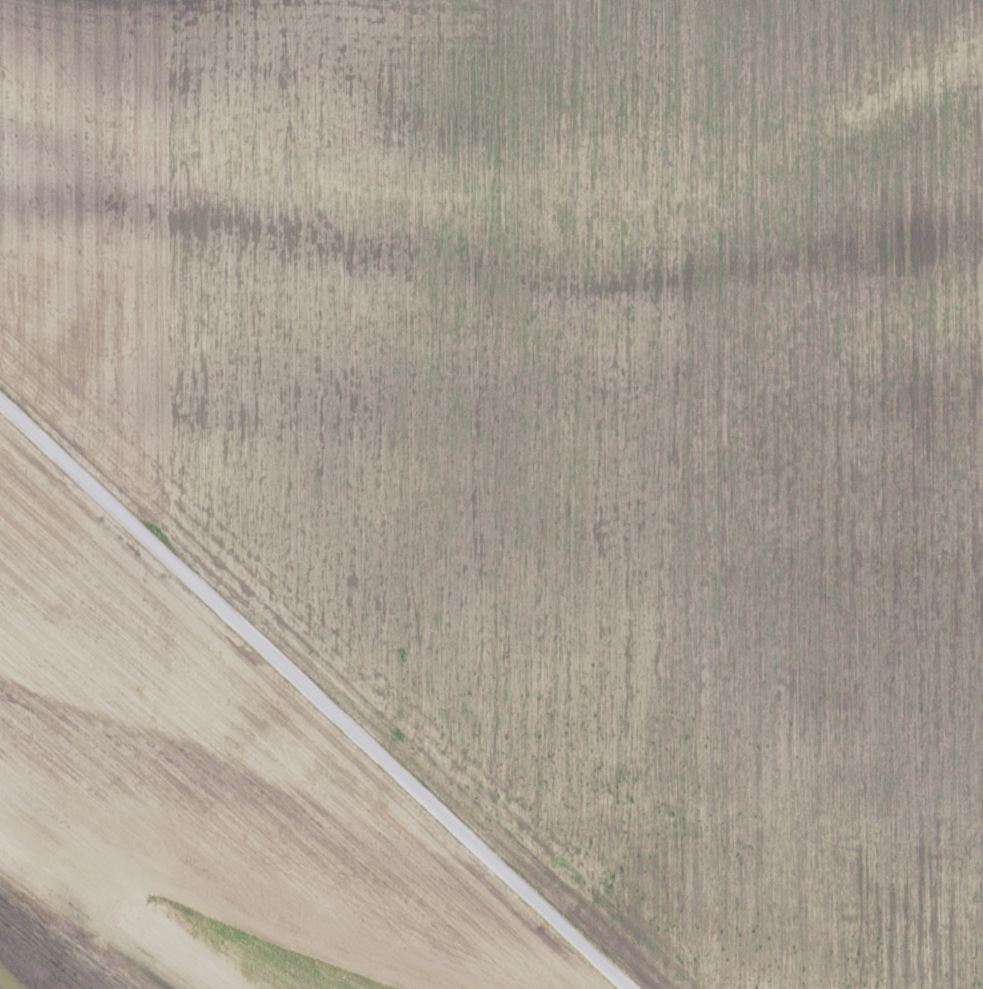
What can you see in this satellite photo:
road: (290, 708)

